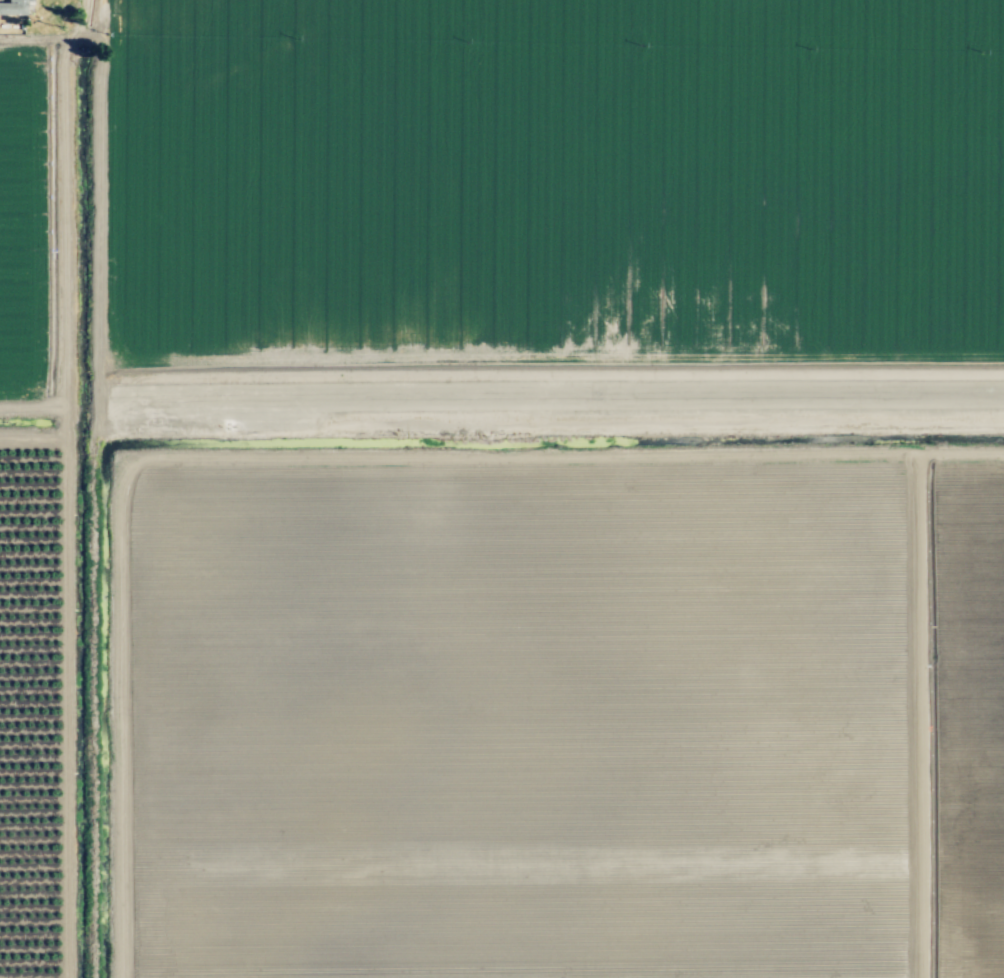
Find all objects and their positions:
building: (14, 8)
road: (557, 395)
crop: (504, 491)

